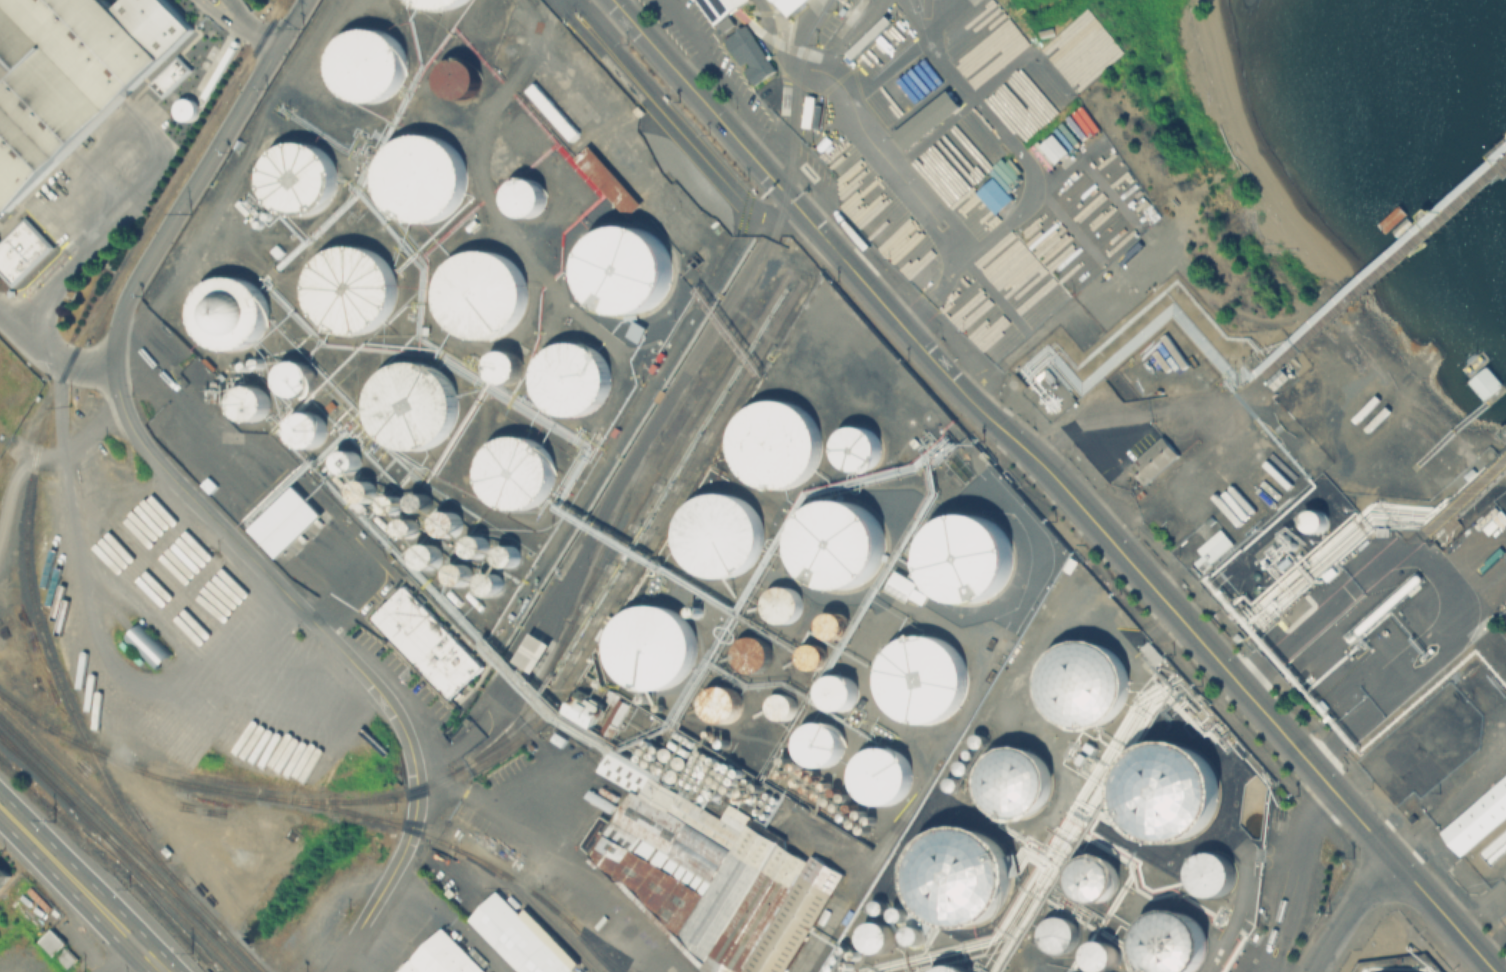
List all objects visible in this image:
building: (781, 1)
building: (436, 2)
storage tank: (436, 2)
building: (709, 4)
road: (225, 16)
road: (288, 22)
road: (255, 32)
traffic signals: (275, 44)
building: (751, 54)
building: (364, 61)
storage tank: (364, 61)
road: (694, 65)
road: (886, 65)
road: (159, 70)
road: (717, 71)
building: (69, 74)
building: (168, 75)
building: (458, 75)
storage tank: (458, 75)
road: (789, 82)
road: (154, 92)
road: (961, 107)
building: (184, 108)
building: (638, 109)
parking lot: (152, 110)
building: (551, 110)
road: (912, 110)
building: (811, 112)
building: (818, 112)
building: (927, 123)
building: (1054, 147)
road: (880, 152)
road: (1030, 171)
building: (419, 175)
storage tank: (419, 175)
building: (295, 176)
storage tank: (295, 176)
building: (606, 180)
building: (998, 184)
building: (524, 194)
storage tank: (524, 194)
road: (180, 199)
parking lot: (2, 209)
road: (1, 235)
road: (77, 239)
pier: (1403, 242)
building: (20, 250)
road: (77, 251)
building: (624, 269)
storage tank: (624, 269)
road: (45, 270)
building: (349, 287)
storage tank: (349, 287)
building: (481, 294)
storage tank: (481, 294)
road: (995, 294)
road: (11, 302)
building: (227, 311)
storage tank: (227, 311)
building: (634, 330)
road: (50, 356)
building: (504, 365)
storage tank: (504, 365)
building: (572, 376)
storage tank: (572, 376)
building: (294, 377)
railway: (676, 399)
building: (248, 402)
building: (409, 404)
storage tank: (409, 404)
road: (1189, 420)
building: (306, 427)
pier: (1453, 428)
pier: (1504, 430)
railway: (40, 432)
building: (774, 442)
storage tank: (774, 442)
building: (856, 446)
storage tank: (856, 446)
road: (39, 456)
railway: (662, 457)
building: (1153, 458)
building: (344, 459)
building: (516, 470)
storage tank: (516, 470)
railway: (662, 476)
road: (1059, 480)
building: (361, 489)
pier: (1464, 492)
building: (418, 501)
railway: (660, 511)
building: (285, 519)
building: (1314, 520)
building: (1493, 521)
building: (446, 523)
building: (718, 534)
storage tank: (718, 534)
building: (834, 541)
storage tank: (834, 541)
building: (474, 545)
building: (1211, 548)
building: (1503, 551)
building: (426, 554)
building: (506, 555)
building: (967, 555)
storage tank: (967, 555)
road: (262, 569)
building: (458, 573)
building: (489, 583)
building: (904, 587)
building: (781, 602)
storage tank: (781, 602)
building: (831, 623)
storage tank: (831, 623)
building: (427, 640)
building: (147, 644)
building: (651, 645)
storage tank: (651, 645)
building: (1400, 648)
building: (532, 650)
building: (749, 651)
storage tank: (749, 651)
building: (1151, 652)
building: (807, 655)
storage tank: (807, 655)
building: (922, 679)
storage tank: (922, 679)
building: (1082, 681)
storage tank: (1082, 681)
building: (835, 691)
storage tank: (835, 691)
building: (718, 701)
storage tank: (718, 701)
building: (779, 707)
storage tank: (779, 707)
building: (580, 710)
building: (977, 740)
building: (816, 741)
storage tank: (816, 741)
railway: (475, 764)
building: (961, 766)
railway: (36, 770)
building: (877, 774)
storage tank: (877, 774)
building: (1014, 780)
storage tank: (1014, 780)
railway: (425, 781)
railway: (50, 782)
building: (1166, 792)
storage tank: (1166, 792)
railway: (294, 798)
railway: (315, 803)
building: (1479, 823)
railway: (107, 825)
railway: (133, 836)
railway: (498, 836)
road: (1306, 841)
building: (1493, 844)
building: (1210, 871)
storage tank: (1210, 871)
building: (957, 873)
storage tank: (957, 873)
road: (66, 874)
building: (4, 875)
building: (707, 875)
building: (1094, 877)
storage tank: (1094, 877)
road: (386, 879)
railway: (157, 882)
railway: (542, 900)
railway: (169, 902)
building: (877, 905)
storage tank: (877, 905)
road: (1346, 909)
building: (897, 912)
storage tank: (897, 912)
building: (34, 924)
road: (1274, 931)
building: (1058, 932)
storage tank: (1058, 932)
building: (911, 933)
storage tank: (911, 933)
building: (877, 935)
storage tank: (877, 935)
road: (1281, 935)
building: (515, 936)
building: (52, 938)
building: (1169, 942)
storage tank: (1169, 942)
railway: (596, 948)
railway: (231, 952)
building: (66, 954)
building: (1100, 954)
storage tank: (1100, 954)
road: (116, 956)
road: (147, 956)
building: (445, 957)
road: (1262, 966)
building: (949, 968)
storage tank: (949, 968)

